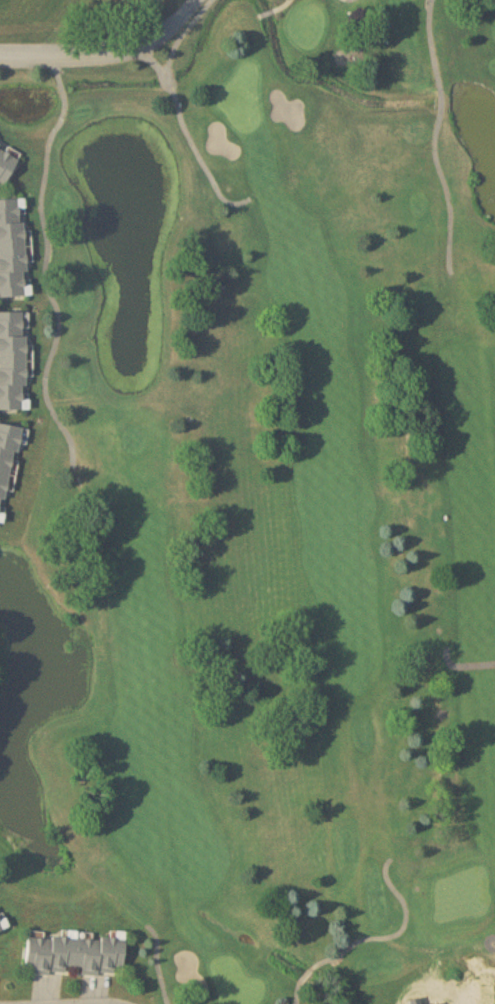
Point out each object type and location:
road: (106, 50)
building: (7, 161)
building: (12, 248)
building: (13, 361)
building: (7, 457)
park: (262, 490)
building: (1, 928)
building: (74, 954)

